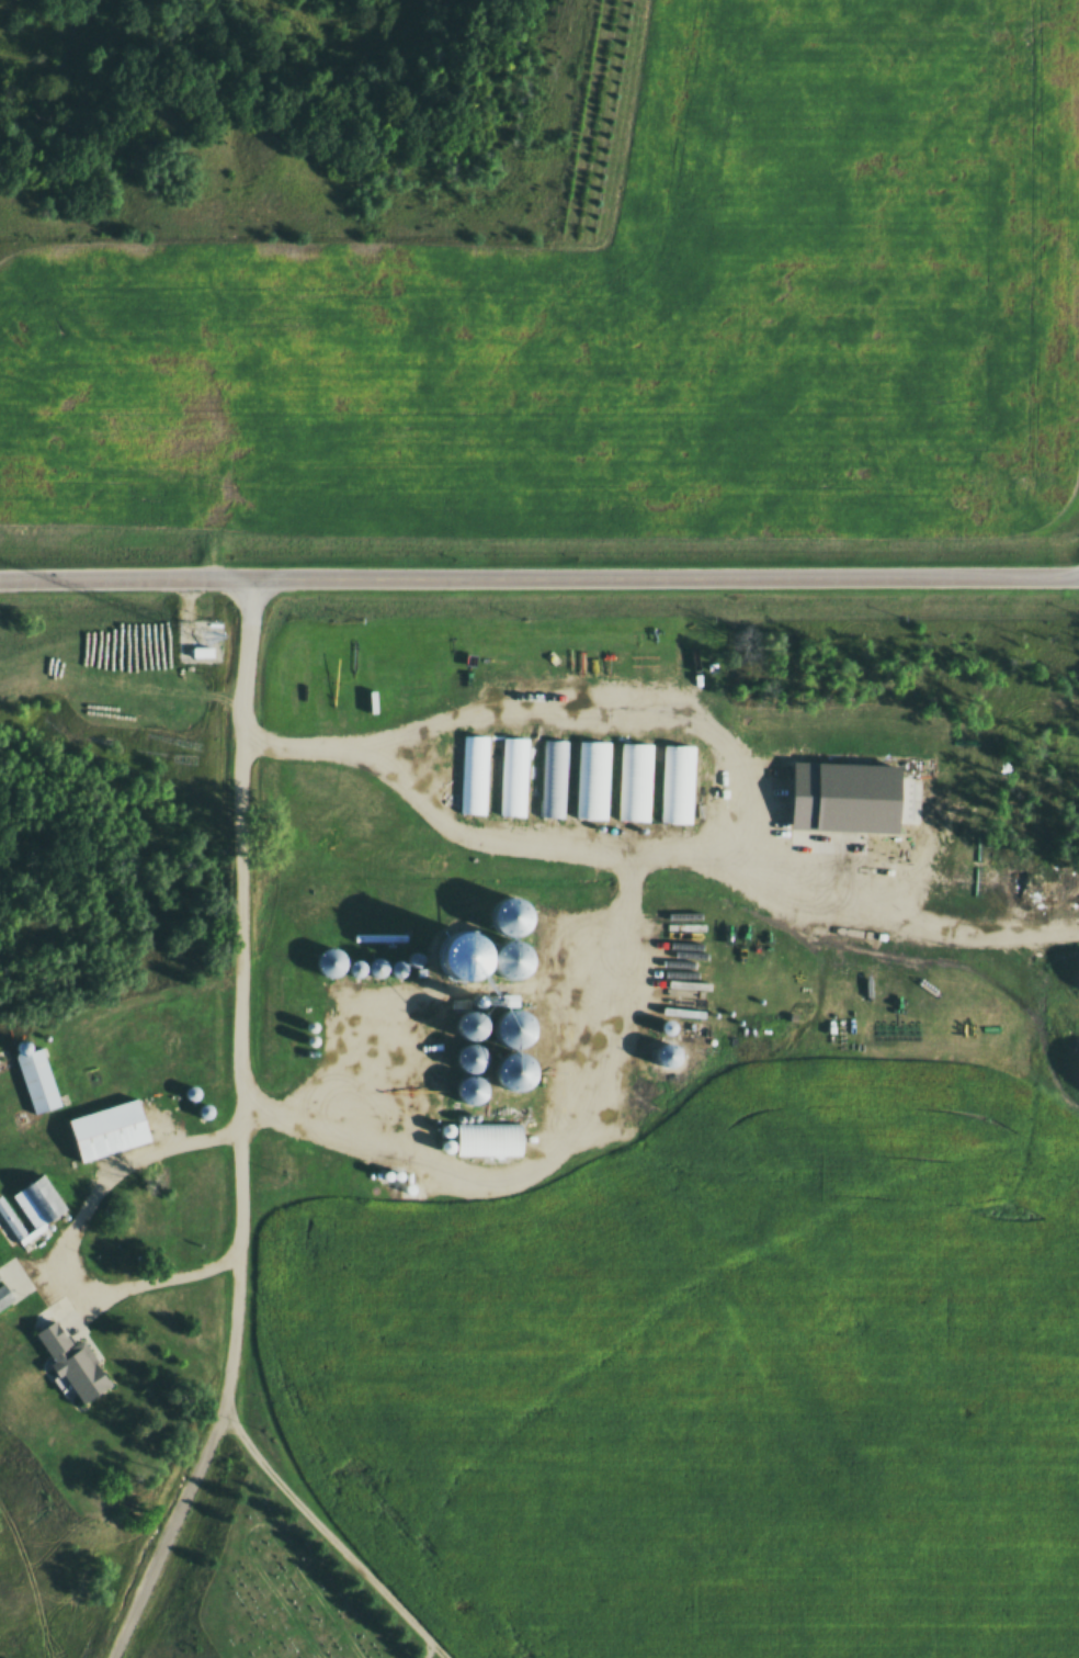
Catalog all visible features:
building: (389, 287)
building: (900, 289)
building: (393, 318)
building: (389, 348)
building: (387, 381)
building: (386, 415)
building: (384, 447)
building: (384, 476)
road: (538, 571)
building: (386, 658)
building: (320, 667)
building: (484, 767)
building: (524, 767)
building: (564, 769)
building: (603, 770)
building: (646, 771)
building: (688, 775)
building: (859, 786)
building: (520, 909)
silo: (520, 909)
building: (427, 945)
silo: (427, 945)
building: (521, 951)
silo: (521, 951)
building: (340, 956)
silo: (340, 956)
building: (482, 957)
silo: (482, 957)
building: (388, 959)
silo: (388, 959)
building: (410, 959)
silo: (410, 959)
building: (366, 960)
silo: (366, 960)
building: (482, 1012)
silo: (482, 1012)
building: (525, 1014)
silo: (525, 1014)
building: (470, 1026)
building: (514, 1029)
building: (34, 1034)
silo: (34, 1034)
building: (484, 1047)
silo: (484, 1047)
building: (526, 1059)
silo: (526, 1059)
building: (473, 1060)
building: (509, 1069)
building: (53, 1071)
building: (36, 1079)
building: (485, 1081)
silo: (485, 1081)
building: (204, 1085)
silo: (204, 1085)
building: (473, 1091)
building: (218, 1101)
silo: (218, 1101)
building: (123, 1119)
road: (250, 1128)
building: (504, 1131)
building: (37, 1203)
building: (11, 1282)
building: (90, 1350)
building: (75, 1364)
road: (262, 1524)
road: (336, 1532)
park: (273, 1579)
road: (429, 1653)

